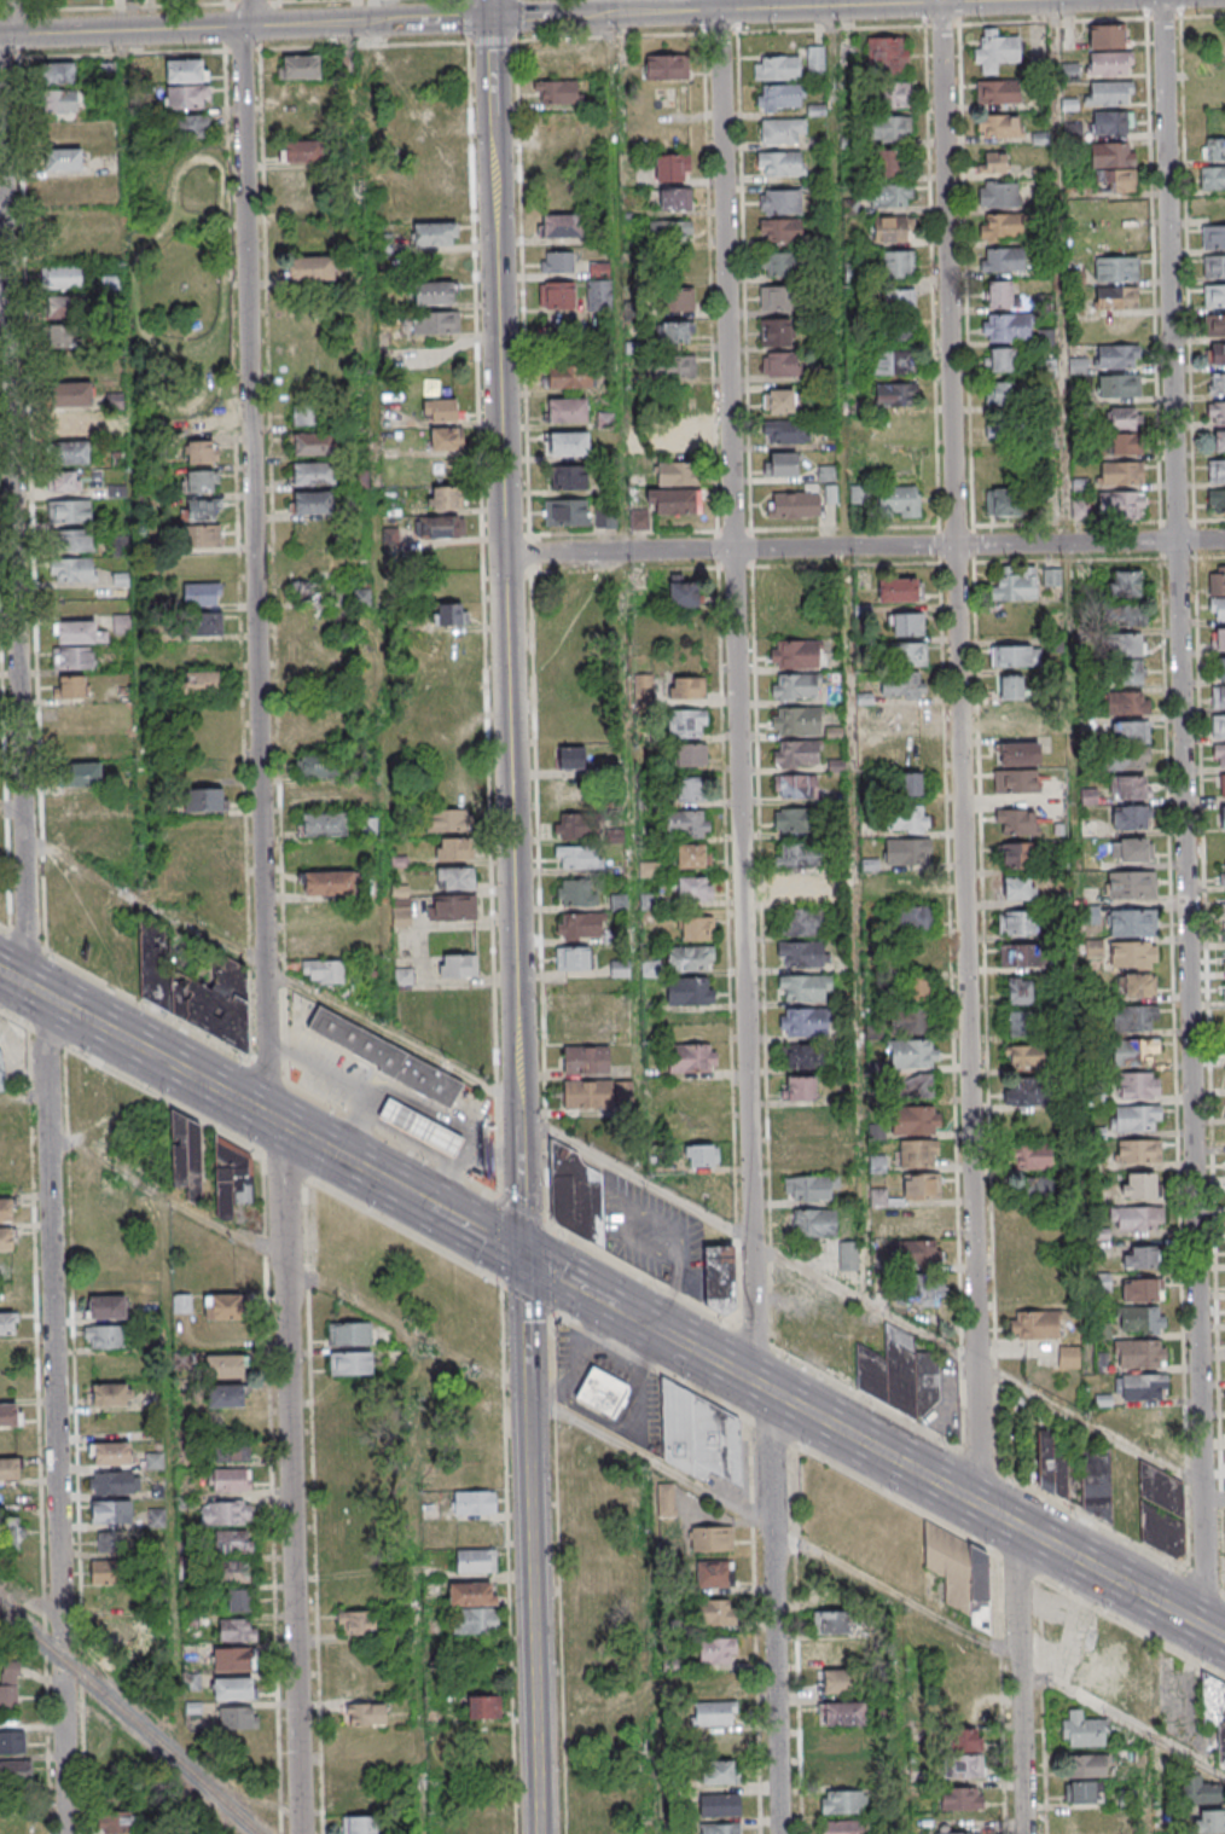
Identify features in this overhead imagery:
road: (278, 1)
road: (300, 2)
road: (128, 8)
road: (492, 8)
road: (759, 8)
road: (377, 11)
road: (19, 12)
traffic signals: (493, 18)
road: (246, 25)
building: (1109, 35)
building: (995, 51)
building: (887, 56)
building: (423, 62)
building: (814, 62)
building: (559, 63)
building: (1109, 63)
building: (297, 66)
building: (667, 66)
building: (777, 66)
road: (494, 69)
building: (186, 70)
building: (1069, 71)
building: (58, 72)
building: (558, 92)
building: (998, 93)
building: (1109, 93)
building: (889, 94)
building: (186, 97)
building: (779, 97)
building: (60, 101)
building: (437, 116)
building: (1111, 123)
building: (187, 126)
building: (1000, 127)
building: (887, 128)
building: (783, 130)
building: (302, 150)
building: (1214, 150)
building: (1113, 156)
building: (63, 159)
building: (994, 162)
building: (780, 163)
building: (888, 163)
building: (672, 167)
building: (432, 175)
building: (1212, 179)
building: (1115, 181)
building: (998, 195)
building: (888, 196)
building: (673, 198)
building: (780, 202)
building: (430, 205)
building: (561, 225)
building: (1002, 227)
building: (670, 228)
building: (779, 230)
building: (889, 230)
building: (435, 233)
building: (1213, 237)
building: (1002, 260)
building: (557, 261)
building: (778, 262)
building: (896, 265)
building: (1213, 267)
building: (1116, 268)
building: (308, 269)
building: (599, 269)
building: (62, 275)
park: (181, 288)
building: (432, 292)
building: (999, 292)
building: (556, 295)
building: (598, 295)
building: (1214, 296)
building: (776, 297)
building: (1116, 297)
building: (675, 298)
building: (901, 300)
building: (65, 307)
building: (435, 323)
building: (1214, 325)
building: (1006, 327)
building: (895, 330)
building: (774, 332)
building: (673, 333)
building: (68, 337)
building: (1217, 354)
building: (1117, 355)
building: (999, 359)
building: (890, 361)
building: (779, 364)
building: (1078, 366)
building: (673, 368)
building: (567, 376)
building: (1217, 383)
building: (1119, 385)
building: (72, 393)
building: (999, 393)
building: (895, 394)
building: (778, 400)
building: (439, 408)
building: (567, 410)
building: (307, 417)
road: (1063, 417)
building: (1124, 418)
building: (190, 422)
building: (72, 423)
building: (1217, 425)
building: (1000, 429)
building: (785, 431)
building: (684, 435)
building: (443, 439)
building: (313, 443)
building: (569, 443)
building: (1125, 443)
building: (71, 452)
building: (199, 452)
building: (780, 464)
road: (134, 468)
building: (1217, 470)
building: (313, 472)
building: (677, 472)
building: (1121, 472)
building: (568, 477)
building: (63, 481)
building: (198, 481)
building: (443, 497)
building: (1217, 500)
building: (312, 501)
building: (900, 501)
building: (1003, 501)
building: (795, 504)
building: (666, 505)
building: (1121, 505)
building: (201, 509)
building: (69, 511)
building: (1079, 511)
building: (565, 512)
building: (605, 517)
building: (439, 527)
road: (376, 529)
building: (205, 536)
building: (75, 540)
road: (864, 546)
building: (72, 569)
building: (1051, 578)
building: (1217, 581)
building: (1015, 584)
building: (1124, 584)
road: (627, 590)
building: (899, 590)
building: (202, 596)
building: (684, 596)
building: (1219, 610)
building: (448, 614)
building: (1128, 616)
building: (121, 623)
building: (905, 623)
building: (205, 625)
building: (565, 625)
building: (77, 632)
building: (1219, 640)
building: (1130, 645)
road: (852, 651)
building: (796, 654)
building: (908, 655)
building: (1015, 656)
building: (72, 657)
building: (1220, 668)
building: (1130, 672)
building: (199, 684)
building: (69, 686)
building: (901, 686)
building: (1010, 686)
road: (507, 689)
building: (687, 689)
building: (796, 692)
building: (643, 693)
building: (1218, 697)
building: (447, 702)
building: (1126, 703)
building: (900, 716)
building: (1020, 721)
building: (686, 724)
building: (797, 725)
building: (1218, 727)
building: (1128, 732)
building: (902, 749)
road: (958, 753)
building: (1017, 754)
building: (691, 755)
building: (1219, 758)
building: (571, 759)
building: (799, 759)
building: (1127, 759)
building: (310, 766)
building: (615, 770)
building: (83, 773)
building: (1015, 780)
building: (910, 784)
building: (795, 785)
building: (1221, 787)
building: (1128, 788)
building: (571, 791)
building: (692, 791)
building: (318, 795)
building: (203, 799)
building: (80, 805)
road: (14, 813)
road: (1182, 813)
building: (1130, 818)
building: (449, 819)
building: (794, 819)
building: (907, 819)
building: (1221, 819)
building: (1015, 822)
road: (30, 824)
building: (321, 824)
building: (685, 825)
building: (209, 828)
building: (580, 828)
building: (81, 834)
building: (614, 836)
building: (452, 848)
building: (1130, 851)
building: (907, 852)
building: (796, 855)
building: (1015, 855)
building: (690, 857)
building: (205, 858)
building: (580, 858)
building: (649, 871)
building: (1223, 875)
building: (454, 877)
building: (326, 882)
building: (904, 887)
building: (1132, 887)
building: (802, 888)
building: (1016, 888)
building: (692, 890)
building: (576, 894)
building: (649, 903)
building: (619, 904)
road: (149, 906)
building: (451, 909)
building: (400, 911)
road: (267, 916)
road: (742, 917)
building: (911, 918)
building: (1017, 923)
building: (1134, 924)
building: (580, 927)
building: (803, 927)
building: (697, 929)
building: (1224, 931)
building: (614, 938)
building: (324, 941)
building: (801, 953)
building: (1020, 956)
building: (1134, 957)
building: (571, 959)
building: (689, 959)
building: (454, 965)
building: (620, 970)
building: (650, 970)
building: (323, 973)
building: (1138, 985)
building: (191, 988)
building: (917, 988)
building: (1020, 991)
building: (689, 992)
building: (803, 993)
road: (12, 1016)
building: (1134, 1017)
building: (913, 1020)
building: (1020, 1023)
building: (806, 1026)
road: (45, 1035)
road: (396, 1039)
building: (1133, 1050)
building: (912, 1054)
building: (802, 1056)
building: (1023, 1056)
building: (690, 1060)
road: (249, 1061)
building: (585, 1061)
building: (389, 1063)
building: (1, 1069)
road: (193, 1076)
building: (1138, 1085)
building: (912, 1086)
building: (797, 1089)
building: (623, 1093)
building: (1027, 1093)
building: (587, 1096)
building: (697, 1097)
road: (162, 1098)
building: (1136, 1118)
building: (915, 1120)
building: (806, 1121)
building: (422, 1133)
building: (918, 1153)
building: (1137, 1153)
building: (185, 1155)
building: (807, 1155)
building: (701, 1156)
building: (1029, 1157)
road: (284, 1163)
building: (877, 1165)
road: (637, 1177)
building: (232, 1178)
building: (1139, 1186)
building: (809, 1188)
building: (921, 1188)
building: (1033, 1190)
road: (410, 1195)
building: (575, 1196)
road: (631, 1208)
building: (5, 1211)
road: (524, 1212)
building: (1138, 1219)
building: (919, 1220)
building: (813, 1223)
road: (406, 1231)
road: (477, 1231)
road: (498, 1238)
building: (5, 1240)
building: (917, 1254)
traffic signals: (522, 1256)
building: (848, 1258)
building: (1140, 1258)
road: (289, 1263)
road: (553, 1270)
road: (565, 1279)
building: (718, 1279)
building: (1028, 1283)
building: (1142, 1290)
building: (919, 1293)
building: (6, 1298)
road: (526, 1298)
road: (675, 1298)
road: (863, 1298)
building: (105, 1306)
building: (221, 1306)
road: (638, 1318)
building: (1142, 1319)
building: (7, 1323)
building: (1034, 1327)
building: (349, 1334)
building: (103, 1336)
road: (582, 1348)
building: (1139, 1353)
building: (1068, 1358)
road: (611, 1360)
building: (350, 1363)
road: (648, 1363)
building: (225, 1365)
building: (899, 1374)
road: (638, 1382)
building: (1142, 1387)
building: (602, 1391)
road: (546, 1393)
building: (110, 1394)
building: (225, 1395)
road: (889, 1410)
building: (10, 1415)
building: (346, 1418)
road: (602, 1420)
building: (1144, 1423)
road: (767, 1428)
road: (1099, 1432)
building: (699, 1437)
building: (230, 1450)
building: (110, 1453)
building: (153, 1461)
building: (8, 1468)
building: (1052, 1468)
building: (228, 1479)
building: (111, 1482)
road: (945, 1486)
road: (893, 1496)
building: (474, 1502)
building: (664, 1502)
building: (110, 1511)
building: (225, 1513)
building: (1161, 1516)
building: (11, 1537)
building: (712, 1538)
building: (234, 1540)
building: (114, 1542)
road: (530, 1544)
building: (475, 1560)
road: (1015, 1562)
building: (232, 1571)
building: (103, 1572)
building: (715, 1573)
building: (959, 1574)
road: (876, 1585)
building: (471, 1594)
building: (238, 1600)
building: (716, 1612)
building: (475, 1620)
building: (365, 1621)
building: (831, 1624)
road: (1131, 1627)
building: (236, 1630)
building: (112, 1632)
building: (716, 1650)
building: (837, 1654)
building: (1111, 1656)
building: (232, 1659)
building: (586, 1659)
road: (1018, 1678)
building: (837, 1683)
building: (714, 1684)
building: (8, 1685)
building: (232, 1688)
building: (481, 1707)
building: (714, 1713)
building: (364, 1714)
building: (842, 1714)
building: (1214, 1716)
railway: (130, 1718)
building: (237, 1718)
building: (1082, 1731)
building: (12, 1742)
building: (838, 1745)
road: (65, 1752)
building: (962, 1754)
building: (1086, 1766)
building: (720, 1772)
building: (840, 1774)
building: (14, 1782)
building: (1082, 1793)
building: (1200, 1793)
building: (960, 1798)
building: (842, 1804)
building: (720, 1805)
building: (1085, 1820)
building: (116, 1821)
building: (1208, 1822)
building: (360, 1826)
building: (594, 1828)
building: (718, 1828)
building: (842, 1828)
building: (956, 1833)

